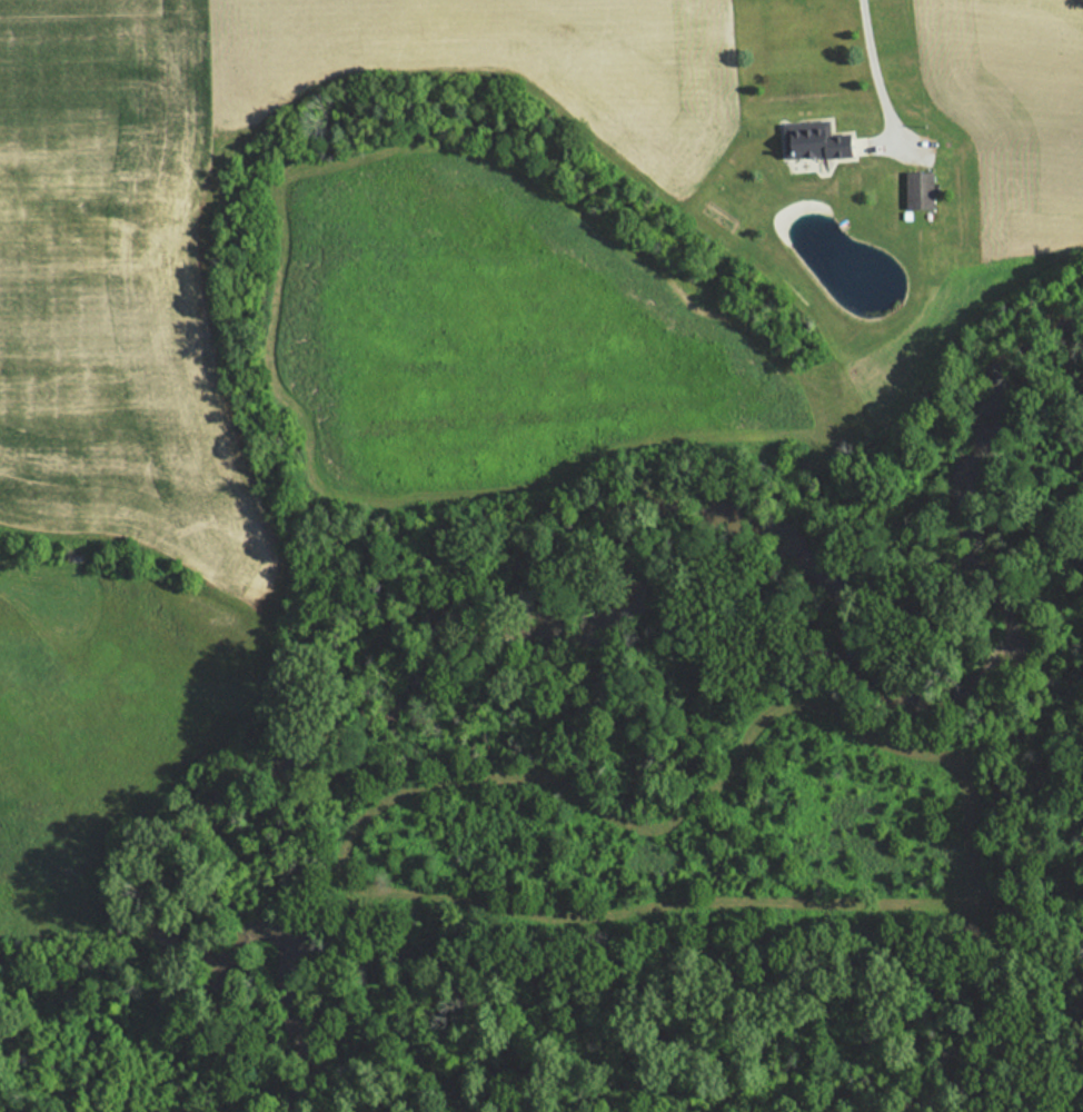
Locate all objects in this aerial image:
road: (870, 75)
building: (814, 140)
building: (917, 190)

